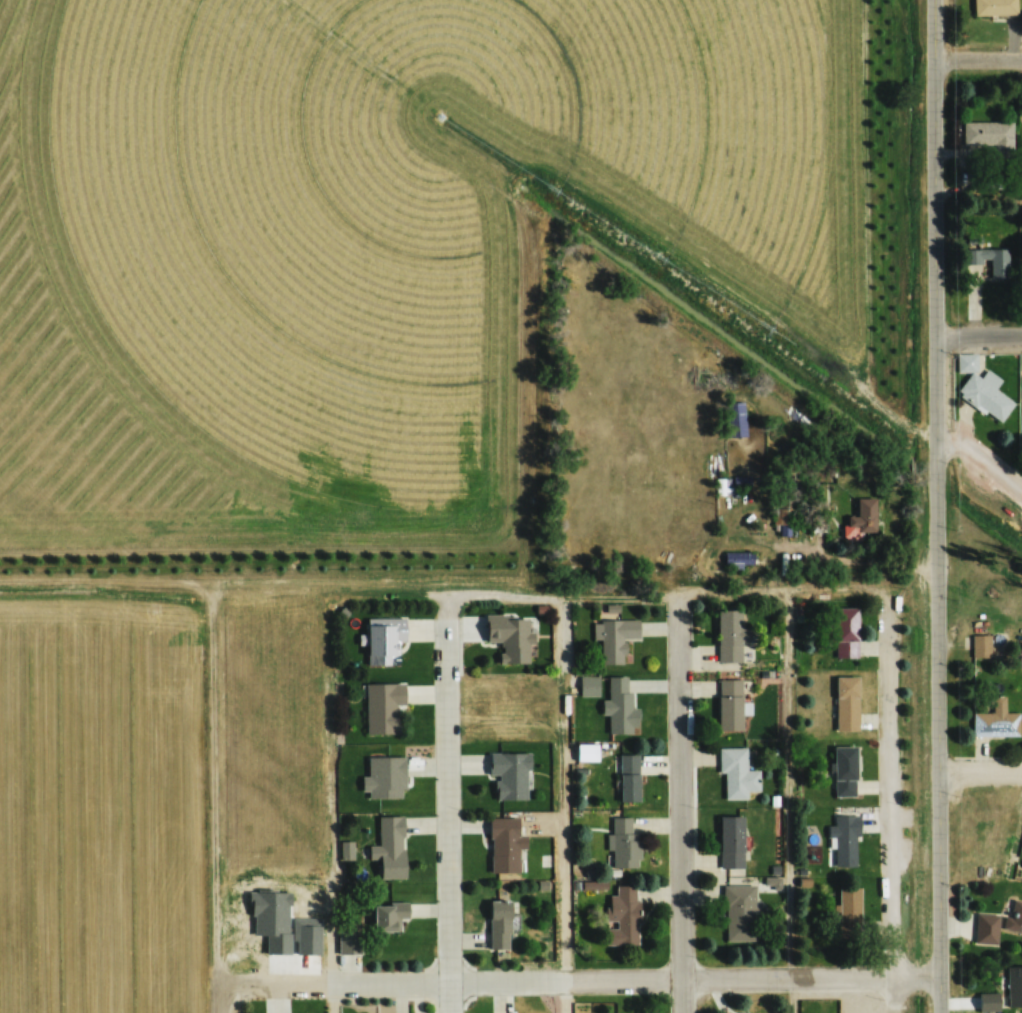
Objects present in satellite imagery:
building: (994, 7)
road: (979, 59)
building: (987, 133)
building: (991, 260)
road: (981, 335)
building: (985, 394)
building: (739, 425)
road: (982, 453)
building: (742, 480)
road: (940, 506)
building: (862, 517)
road: (550, 593)
building: (846, 632)
building: (730, 635)
building: (510, 636)
building: (615, 639)
building: (383, 640)
building: (980, 645)
building: (589, 685)
building: (846, 703)
building: (729, 704)
building: (620, 706)
building: (382, 707)
building: (996, 720)
building: (586, 752)
road: (982, 769)
building: (845, 771)
building: (736, 773)
building: (510, 775)
building: (629, 777)
building: (384, 778)
road: (451, 801)
road: (792, 801)
road: (214, 802)
road: (329, 802)
road: (569, 803)
road: (685, 803)
road: (895, 804)
building: (844, 840)
building: (731, 841)
building: (624, 842)
building: (505, 844)
building: (389, 847)
building: (740, 912)
building: (849, 912)
building: (624, 916)
building: (1016, 916)
building: (388, 917)
building: (499, 923)
building: (987, 928)
building: (349, 942)
road: (579, 980)
building: (1014, 986)
building: (988, 1002)

